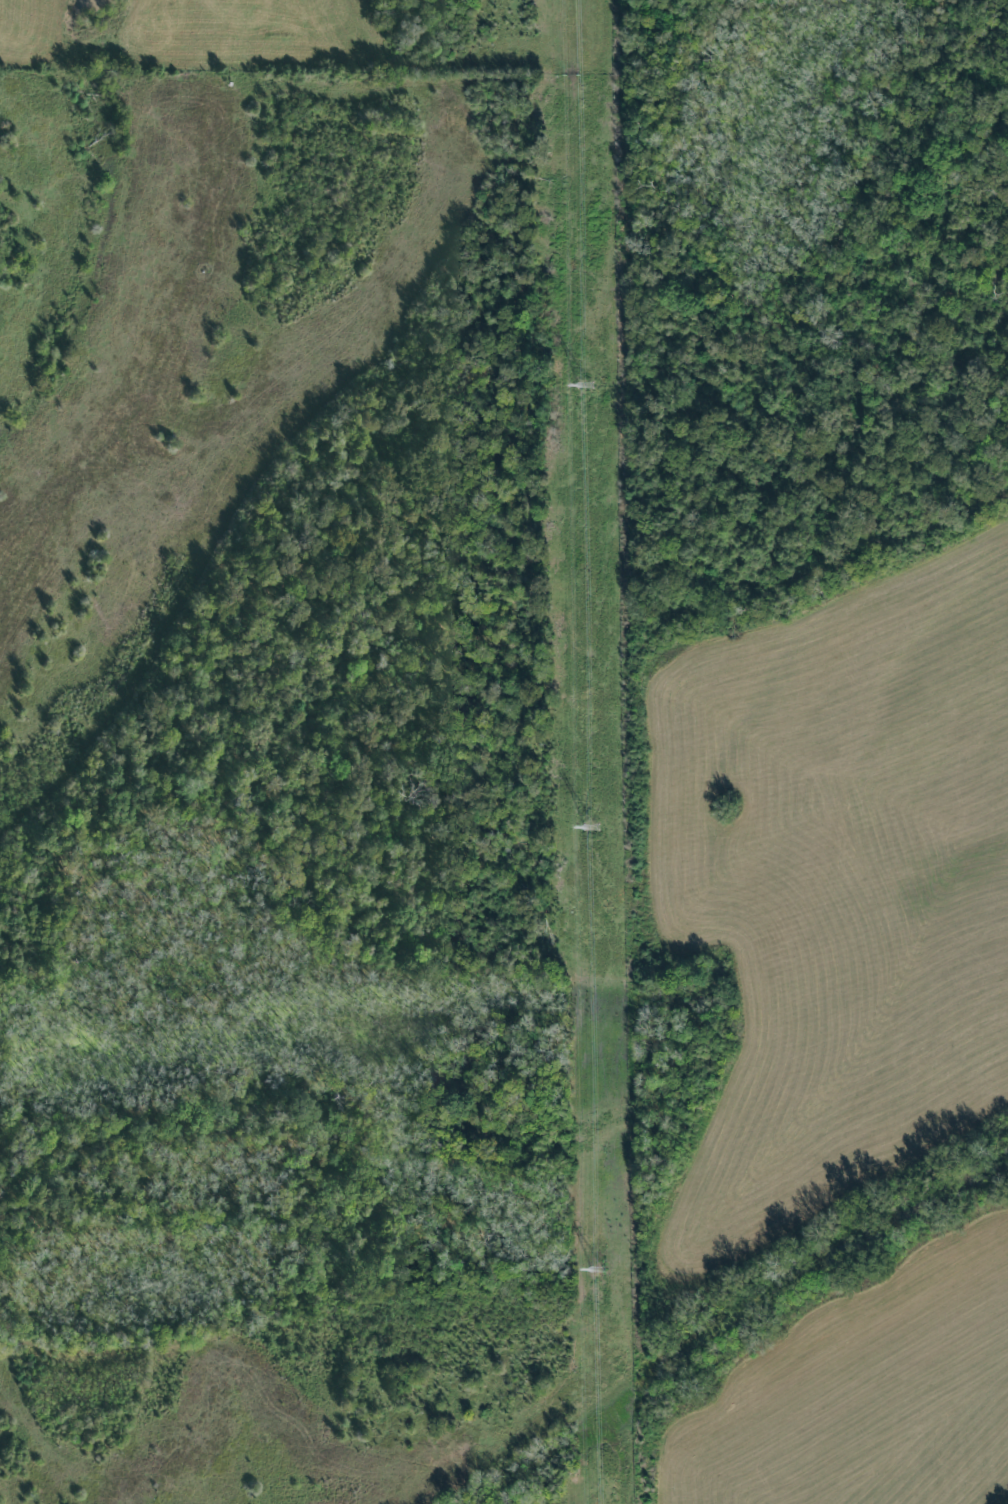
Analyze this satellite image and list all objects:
power tower: (587, 383)
power tower: (594, 835)
power tower: (595, 1272)

